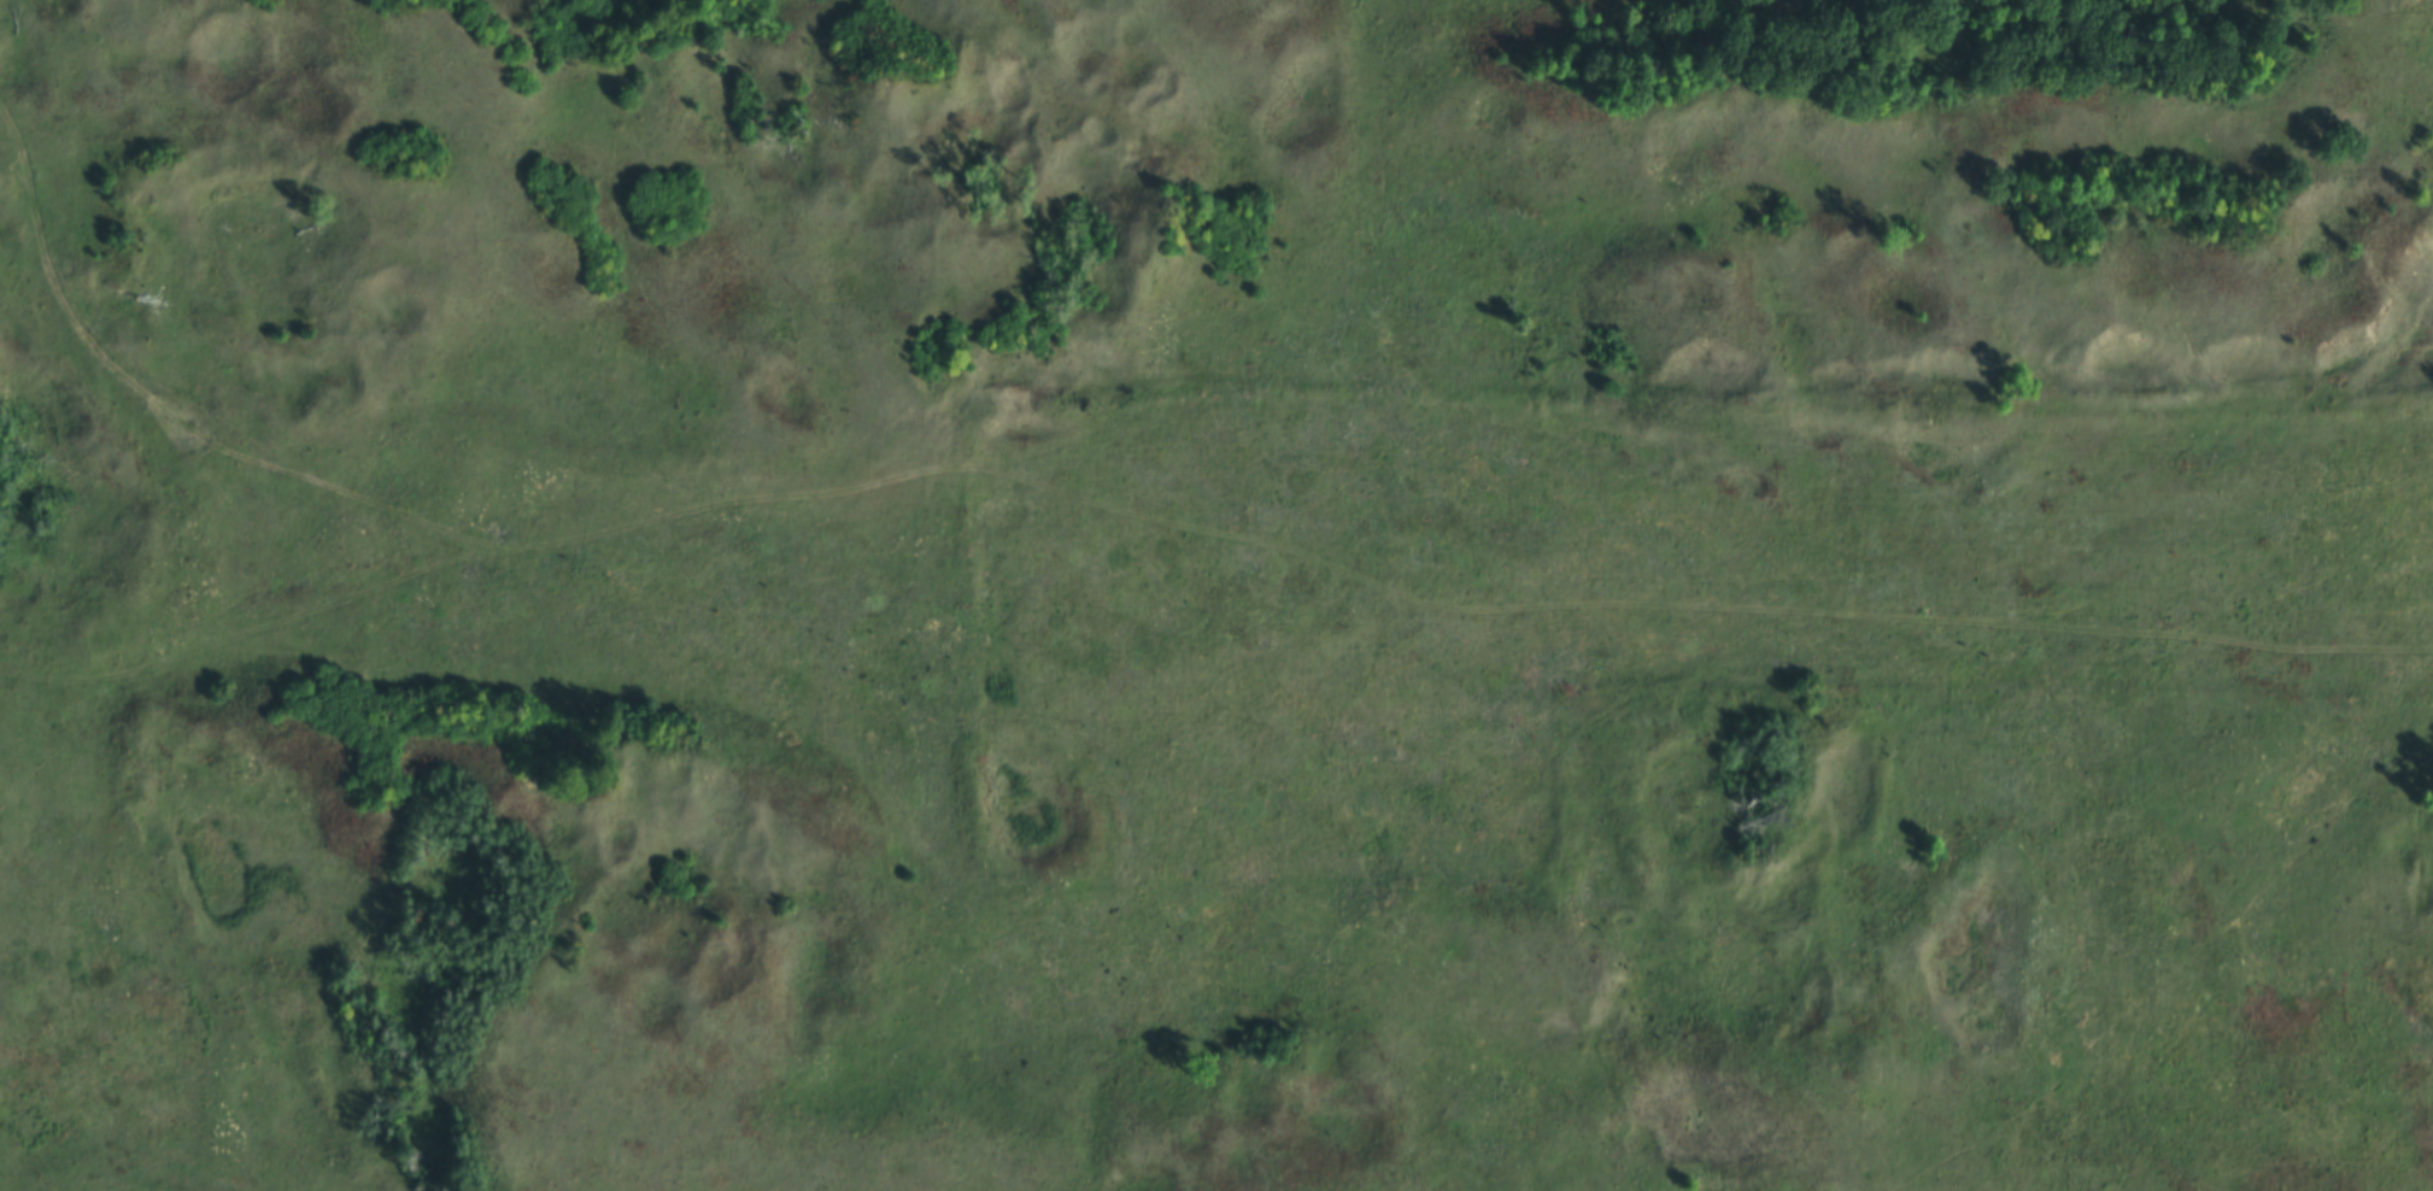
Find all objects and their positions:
road: (371, 510)
road: (1677, 609)

